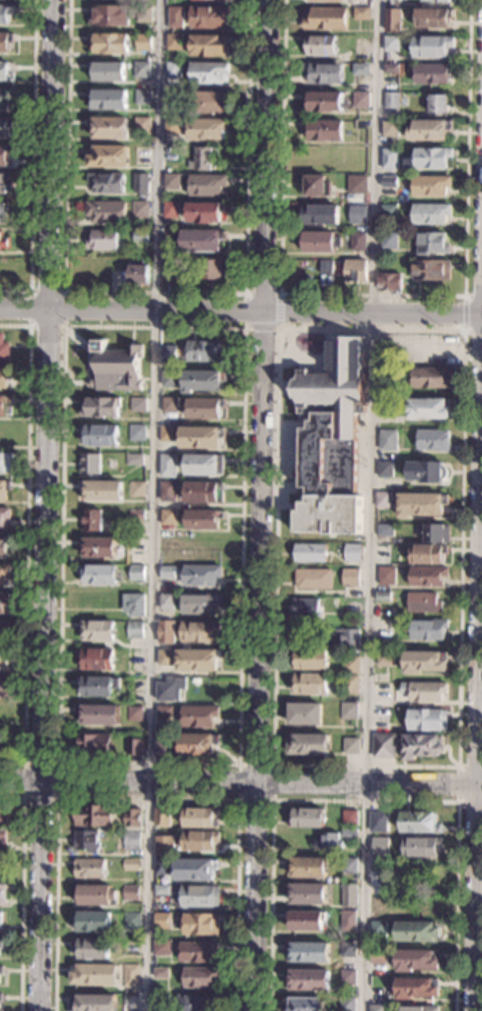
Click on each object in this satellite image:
building: (213, 0)
building: (327, 0)
building: (430, 3)
building: (6, 13)
building: (143, 14)
building: (361, 14)
building: (108, 16)
building: (208, 17)
building: (175, 18)
building: (433, 18)
building: (326, 19)
building: (392, 20)
building: (174, 41)
building: (6, 42)
building: (143, 42)
building: (110, 43)
building: (391, 44)
building: (321, 45)
building: (208, 46)
building: (431, 46)
building: (348, 66)
building: (390, 68)
building: (360, 69)
building: (141, 70)
building: (173, 70)
building: (107, 71)
building: (5, 73)
building: (209, 73)
building: (323, 73)
building: (432, 73)
building: (142, 97)
building: (5, 98)
building: (360, 99)
building: (107, 100)
building: (391, 100)
building: (211, 102)
building: (322, 102)
building: (437, 104)
building: (360, 124)
building: (141, 125)
building: (171, 125)
building: (5, 126)
building: (108, 128)
building: (207, 129)
building: (389, 129)
building: (323, 130)
building: (430, 130)
building: (5, 154)
building: (108, 157)
building: (390, 159)
building: (428, 159)
road: (32, 160)
building: (201, 160)
building: (171, 182)
building: (391, 182)
building: (107, 183)
building: (140, 183)
building: (4, 184)
building: (206, 185)
building: (357, 185)
building: (317, 186)
building: (430, 186)
building: (140, 209)
building: (170, 210)
building: (106, 212)
building: (205, 212)
building: (5, 213)
building: (430, 213)
building: (319, 214)
building: (388, 214)
building: (358, 215)
building: (140, 236)
building: (170, 237)
building: (103, 239)
building: (202, 240)
building: (389, 240)
building: (357, 241)
building: (5, 242)
building: (320, 242)
building: (431, 244)
building: (326, 267)
building: (211, 269)
building: (431, 270)
building: (355, 271)
building: (138, 274)
building: (168, 274)
building: (389, 282)
road: (155, 294)
road: (245, 296)
road: (372, 296)
road: (473, 298)
road: (240, 311)
road: (464, 316)
road: (29, 326)
road: (243, 329)
road: (278, 331)
road: (462, 333)
road: (473, 333)
building: (4, 351)
building: (203, 351)
building: (168, 353)
building: (120, 365)
building: (386, 375)
building: (5, 377)
building: (431, 377)
building: (169, 379)
building: (203, 381)
building: (5, 405)
building: (137, 405)
building: (169, 405)
building: (386, 407)
building: (100, 408)
building: (205, 408)
building: (428, 408)
building: (332, 419)
building: (137, 433)
building: (167, 433)
building: (100, 435)
building: (201, 438)
building: (387, 440)
building: (433, 440)
building: (134, 460)
building: (4, 461)
building: (89, 464)
building: (204, 464)
building: (167, 466)
building: (384, 469)
building: (427, 472)
building: (137, 489)
building: (4, 490)
building: (101, 491)
building: (167, 492)
building: (204, 493)
building: (383, 500)
building: (421, 504)
road: (44, 505)
road: (152, 505)
road: (259, 505)
road: (372, 505)
building: (352, 512)
building: (313, 513)
building: (136, 515)
building: (4, 517)
building: (167, 517)
building: (92, 520)
building: (203, 520)
building: (385, 530)
building: (437, 533)
road: (26, 541)
building: (136, 545)
building: (3, 546)
building: (98, 548)
building: (382, 551)
building: (352, 552)
building: (310, 553)
building: (428, 554)
building: (4, 573)
building: (136, 573)
building: (166, 573)
building: (99, 575)
building: (200, 576)
building: (387, 576)
building: (428, 576)
building: (350, 578)
building: (313, 579)
building: (383, 596)
building: (4, 600)
building: (166, 602)
building: (424, 603)
building: (200, 604)
building: (133, 605)
building: (305, 608)
building: (385, 629)
building: (4, 630)
building: (134, 630)
building: (429, 630)
building: (97, 631)
building: (165, 632)
building: (199, 632)
building: (346, 638)
building: (164, 658)
building: (384, 658)
building: (95, 659)
building: (310, 659)
building: (198, 660)
building: (4, 661)
building: (425, 662)
building: (351, 665)
building: (311, 684)
building: (351, 684)
building: (3, 685)
building: (134, 686)
building: (98, 687)
building: (169, 690)
building: (427, 692)
road: (477, 703)
building: (349, 710)
building: (164, 712)
building: (134, 714)
building: (305, 714)
building: (98, 715)
building: (199, 716)
building: (382, 716)
building: (428, 720)
building: (163, 744)
building: (198, 744)
building: (94, 745)
building: (309, 745)
building: (352, 746)
building: (385, 746)
building: (134, 747)
building: (422, 747)
road: (457, 783)
road: (241, 784)
road: (56, 798)
road: (147, 798)
road: (273, 800)
road: (364, 800)
building: (95, 816)
building: (162, 817)
building: (133, 818)
building: (307, 818)
building: (350, 818)
building: (200, 819)
building: (3, 820)
building: (379, 821)
building: (420, 822)
building: (349, 834)
building: (3, 840)
building: (131, 841)
building: (199, 841)
building: (328, 841)
building: (87, 842)
building: (163, 846)
building: (380, 847)
building: (421, 847)
building: (131, 864)
building: (350, 866)
building: (162, 867)
building: (308, 868)
building: (90, 869)
building: (195, 869)
building: (380, 876)
building: (162, 890)
road: (20, 893)
building: (131, 893)
building: (307, 894)
building: (2, 895)
building: (96, 895)
building: (349, 896)
building: (199, 897)
building: (0, 921)
building: (92, 921)
building: (131, 921)
building: (161, 921)
building: (306, 921)
building: (348, 921)
building: (201, 924)
building: (378, 932)
building: (418, 932)
building: (2, 944)
building: (131, 947)
building: (161, 947)
building: (92, 949)
building: (348, 949)
building: (198, 951)
building: (309, 952)
building: (378, 956)
building: (416, 960)
building: (1, 971)
building: (161, 973)
building: (95, 975)
building: (131, 976)
building: (200, 977)
building: (348, 977)
building: (309, 981)
building: (416, 988)
building: (1, 998)
building: (160, 1002)
building: (93, 1003)
building: (197, 1003)
building: (347, 1004)
building: (305, 1005)
building: (377, 1008)
building: (419, 1008)

